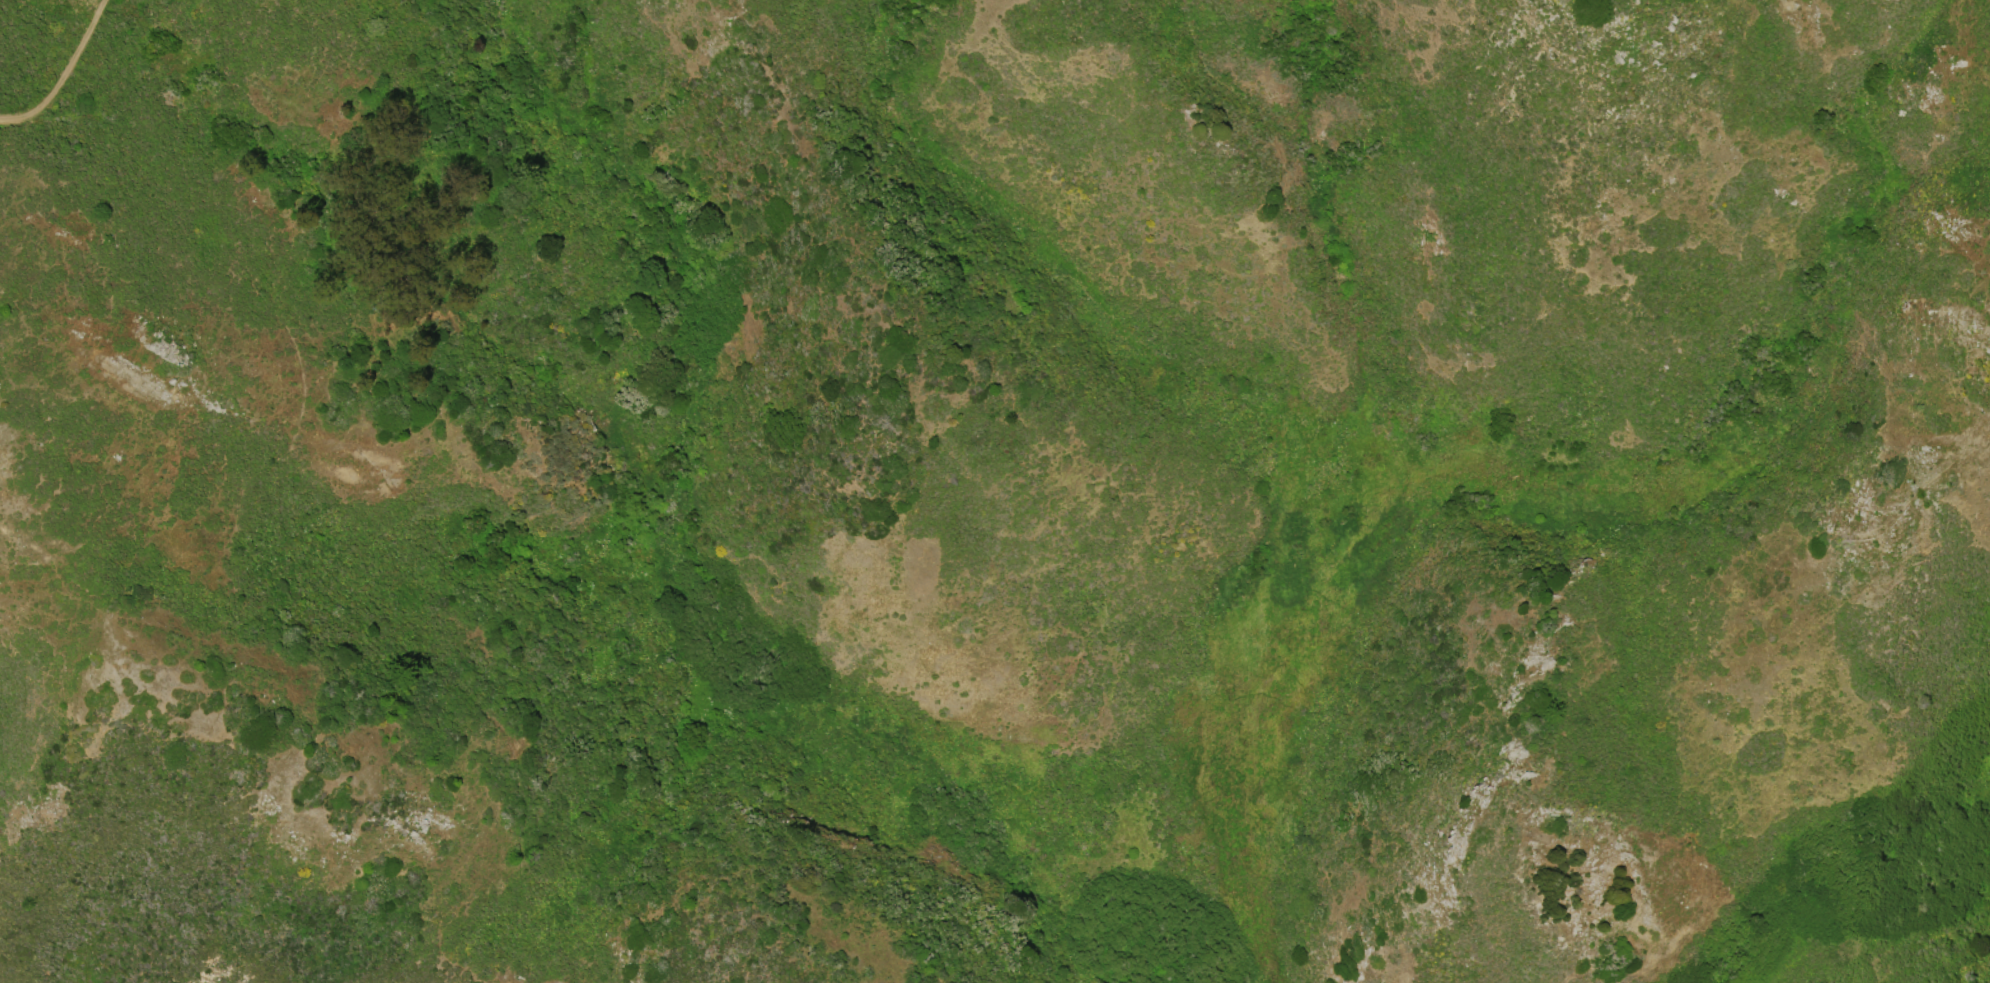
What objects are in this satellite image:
road: (67, 77)

